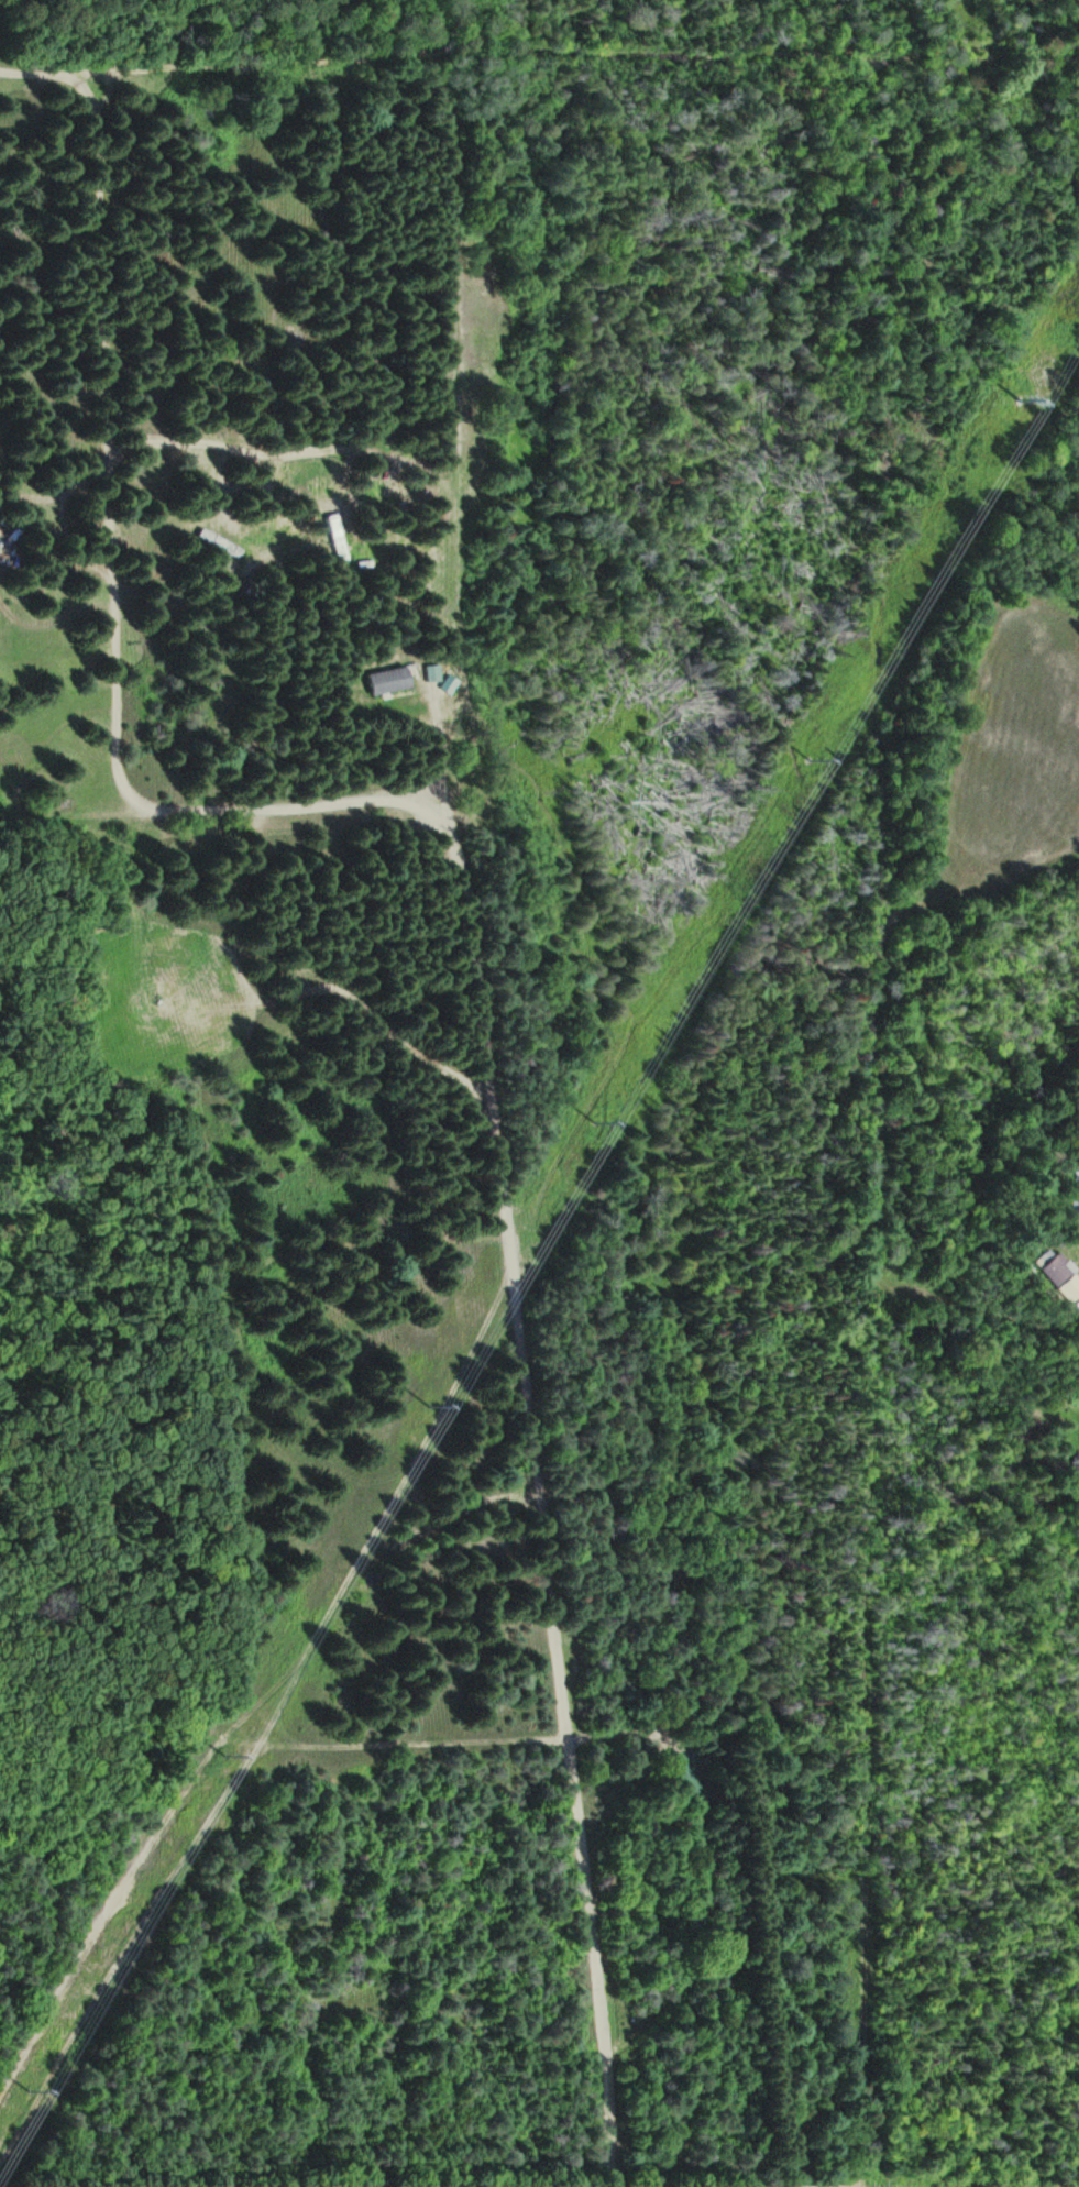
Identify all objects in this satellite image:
road: (453, 48)
road: (993, 55)
power tower: (1021, 397)
building: (337, 536)
building: (434, 672)
building: (392, 680)
power tower: (811, 757)
road: (474, 971)
road: (869, 1119)
power tower: (597, 1120)
building: (1055, 1267)
power tower: (432, 1403)
building: (1076, 1466)
power tower: (225, 1754)
building: (689, 1780)
power tower: (27, 2087)

